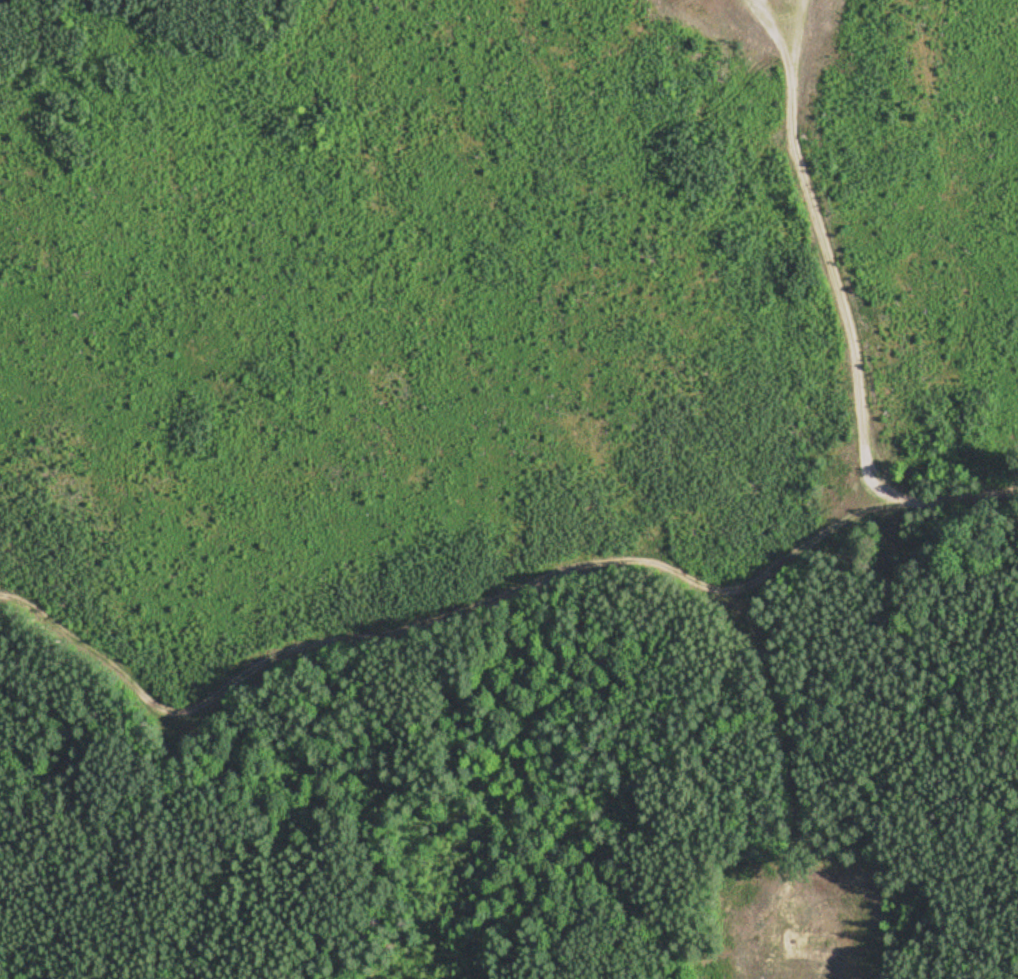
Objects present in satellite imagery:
road: (841, 327)
road: (341, 641)
road: (775, 682)
petroleum well: (799, 944)

